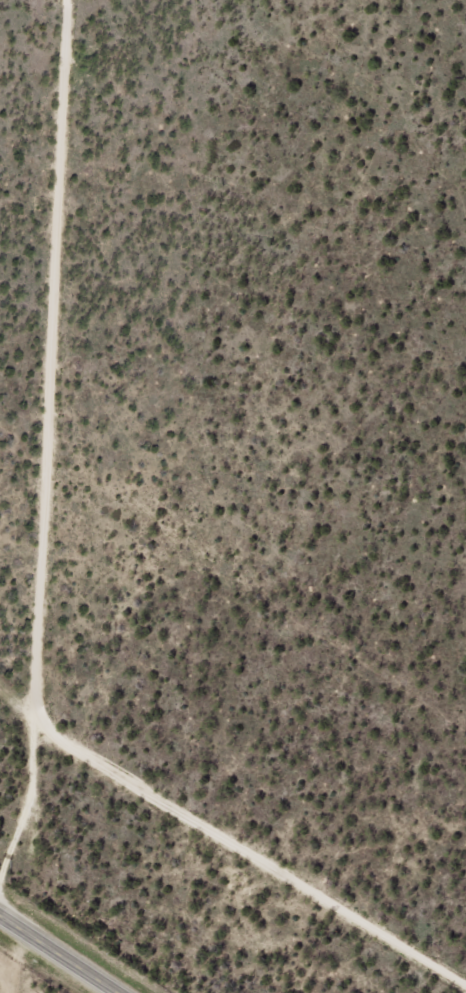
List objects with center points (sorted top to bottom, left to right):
road: (35, 440)
road: (10, 920)
road: (10, 956)
road: (69, 960)

